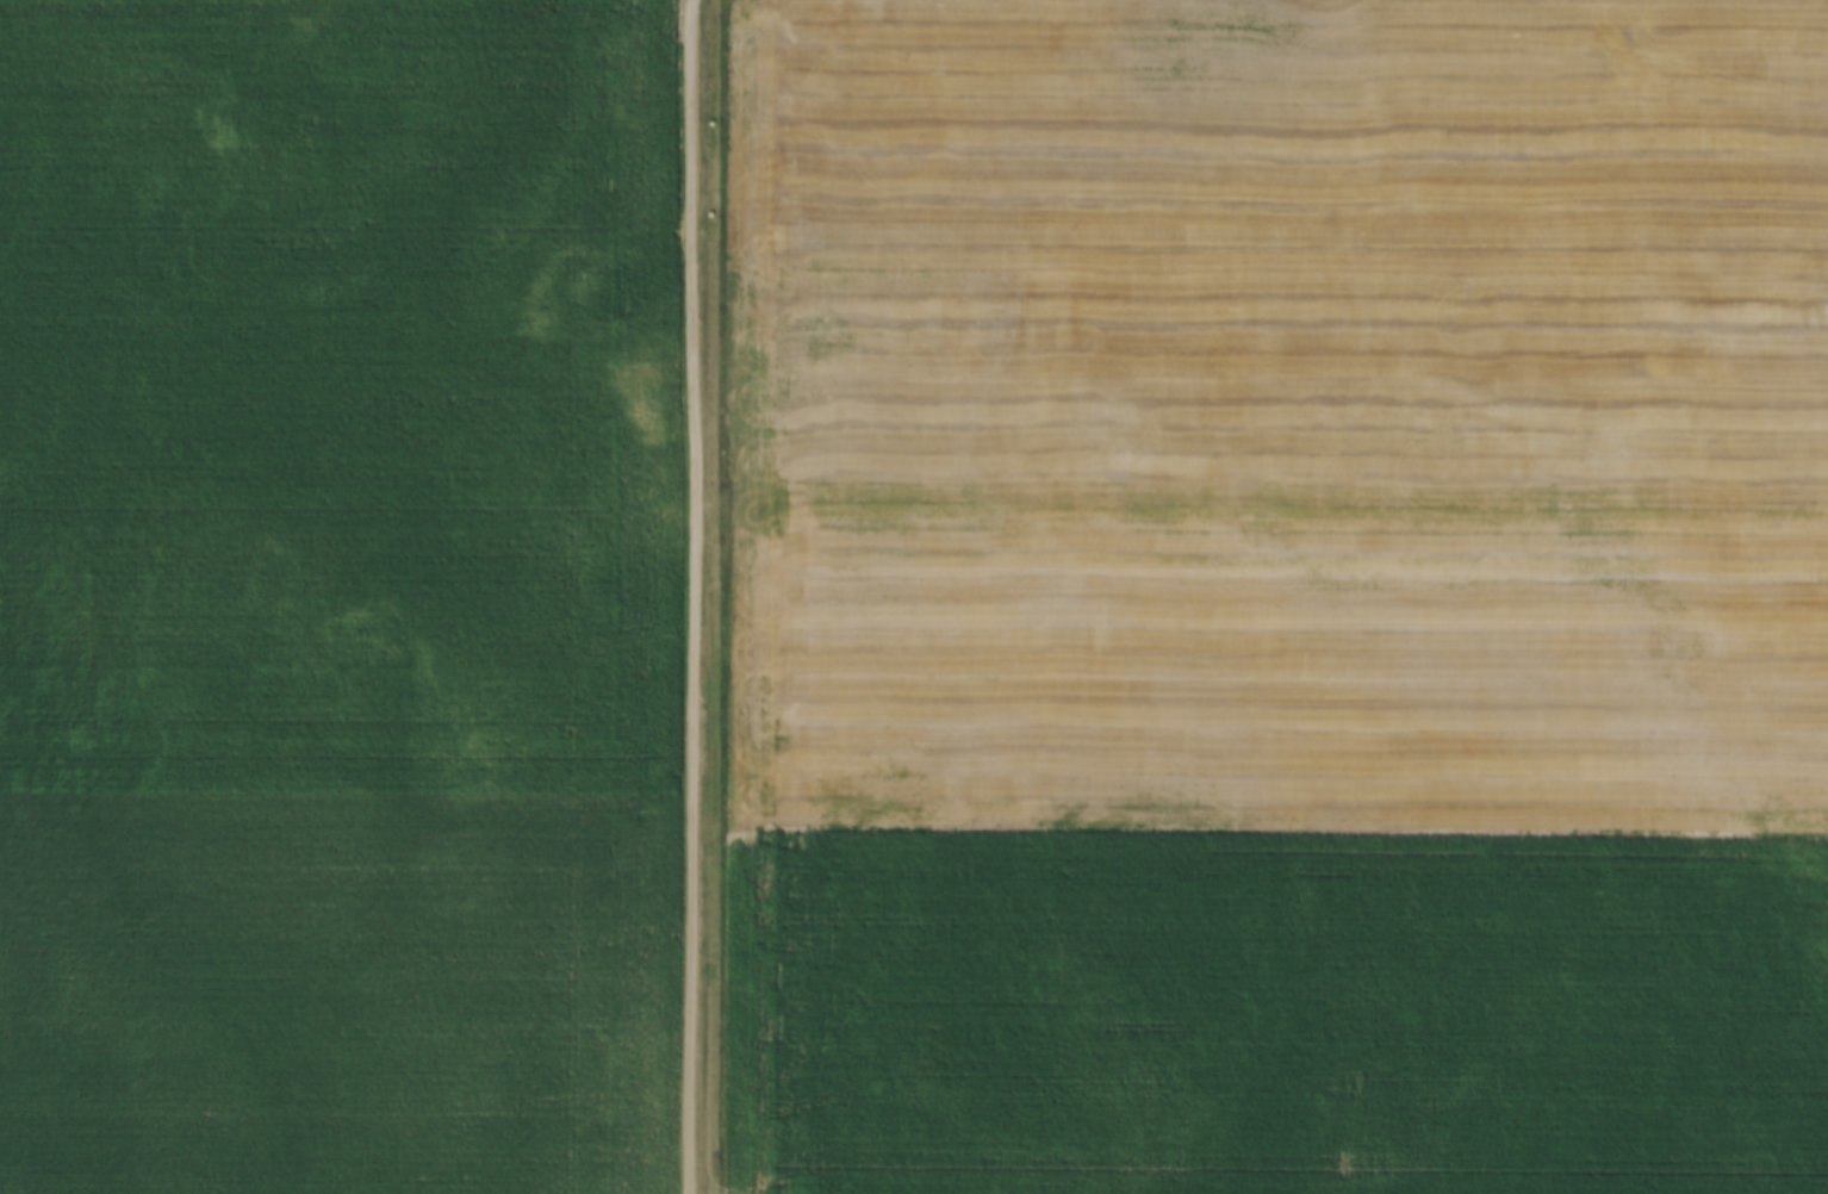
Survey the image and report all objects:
road: (695, 597)

